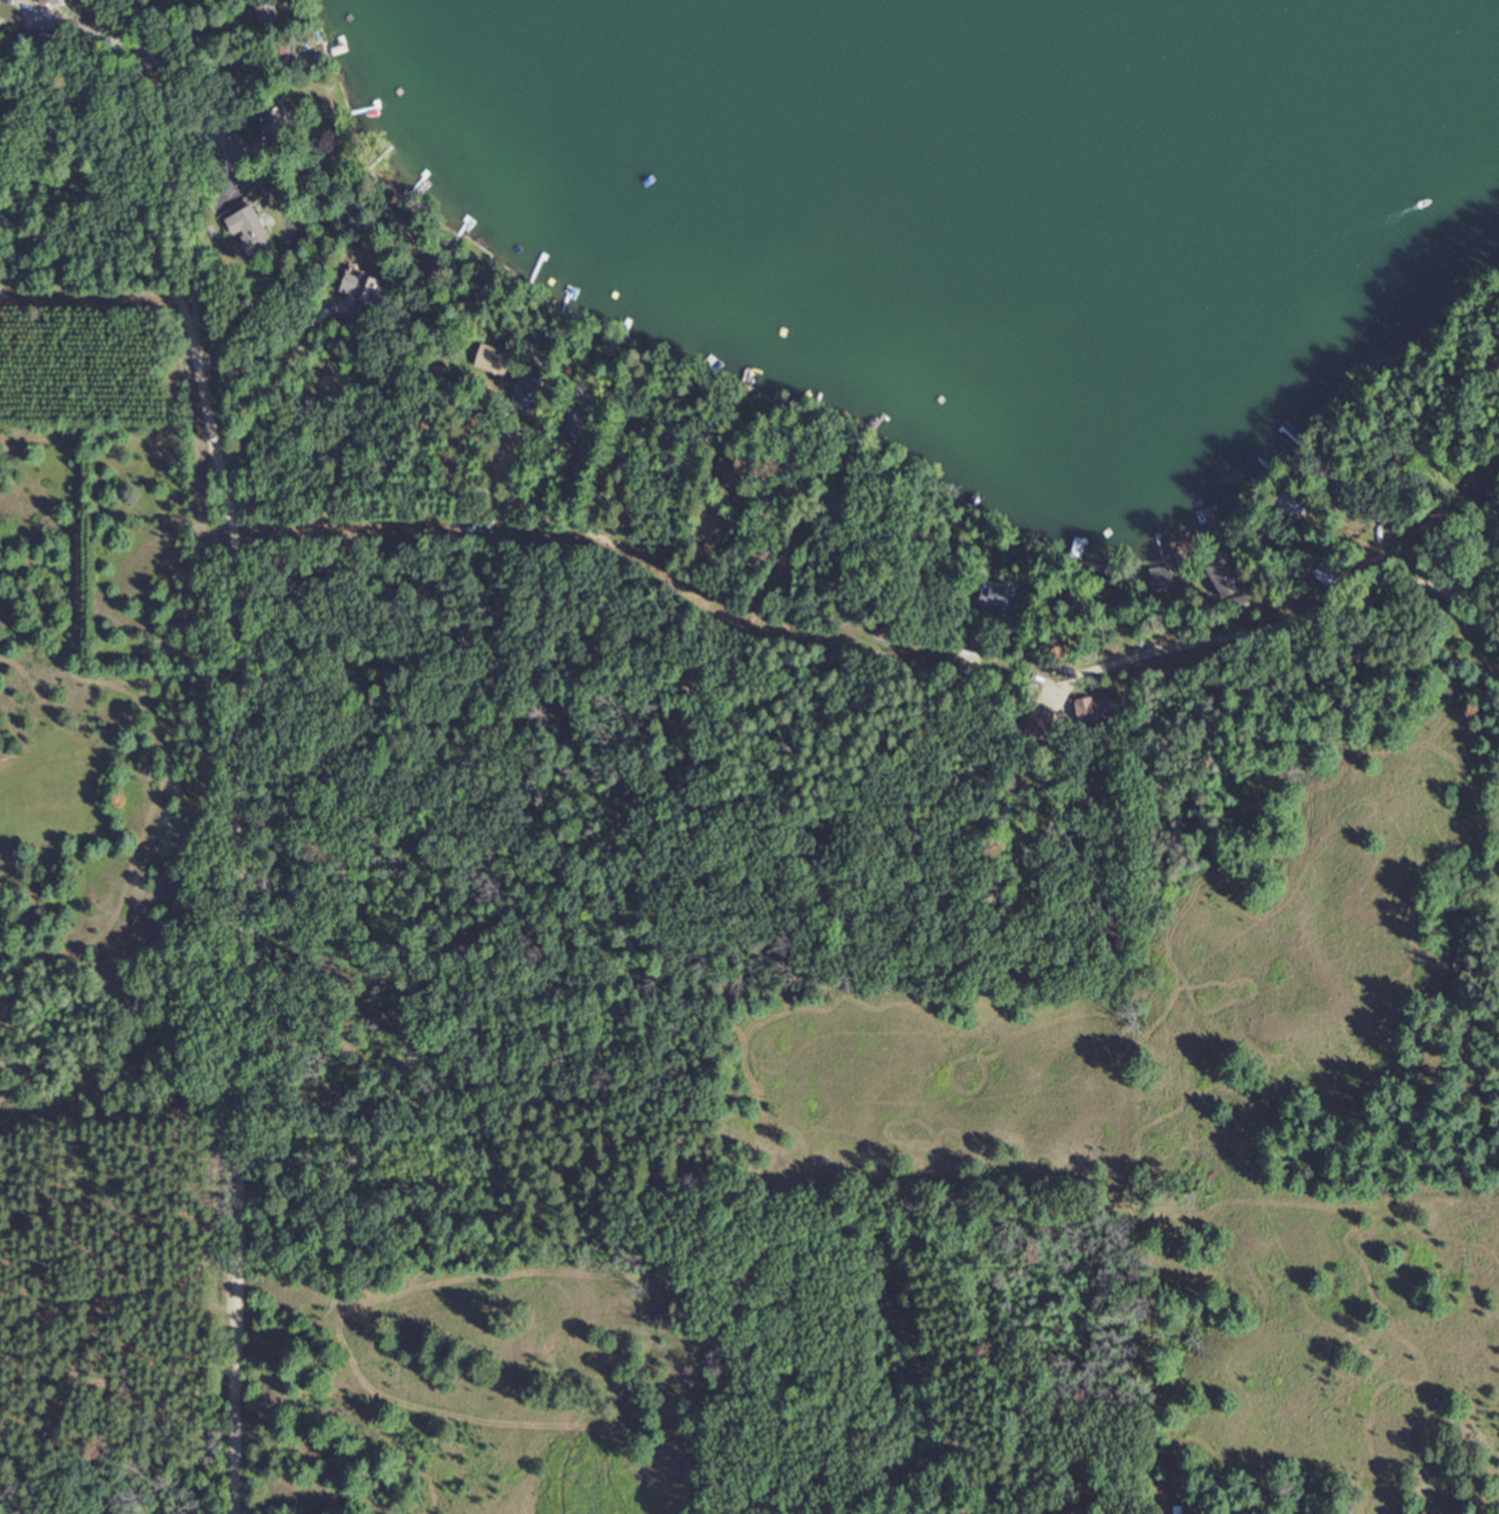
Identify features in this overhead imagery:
building: (45, 1)
building: (265, 12)
road: (77, 28)
building: (37, 39)
building: (270, 126)
building: (245, 227)
road: (272, 264)
building: (360, 287)
building: (491, 359)
building: (570, 423)
building: (735, 472)
road: (457, 493)
building: (1321, 574)
building: (1156, 578)
building: (1220, 578)
building: (997, 597)
road: (1315, 607)
building: (973, 643)
building: (1093, 707)
road: (210, 752)
building: (1170, 1509)

